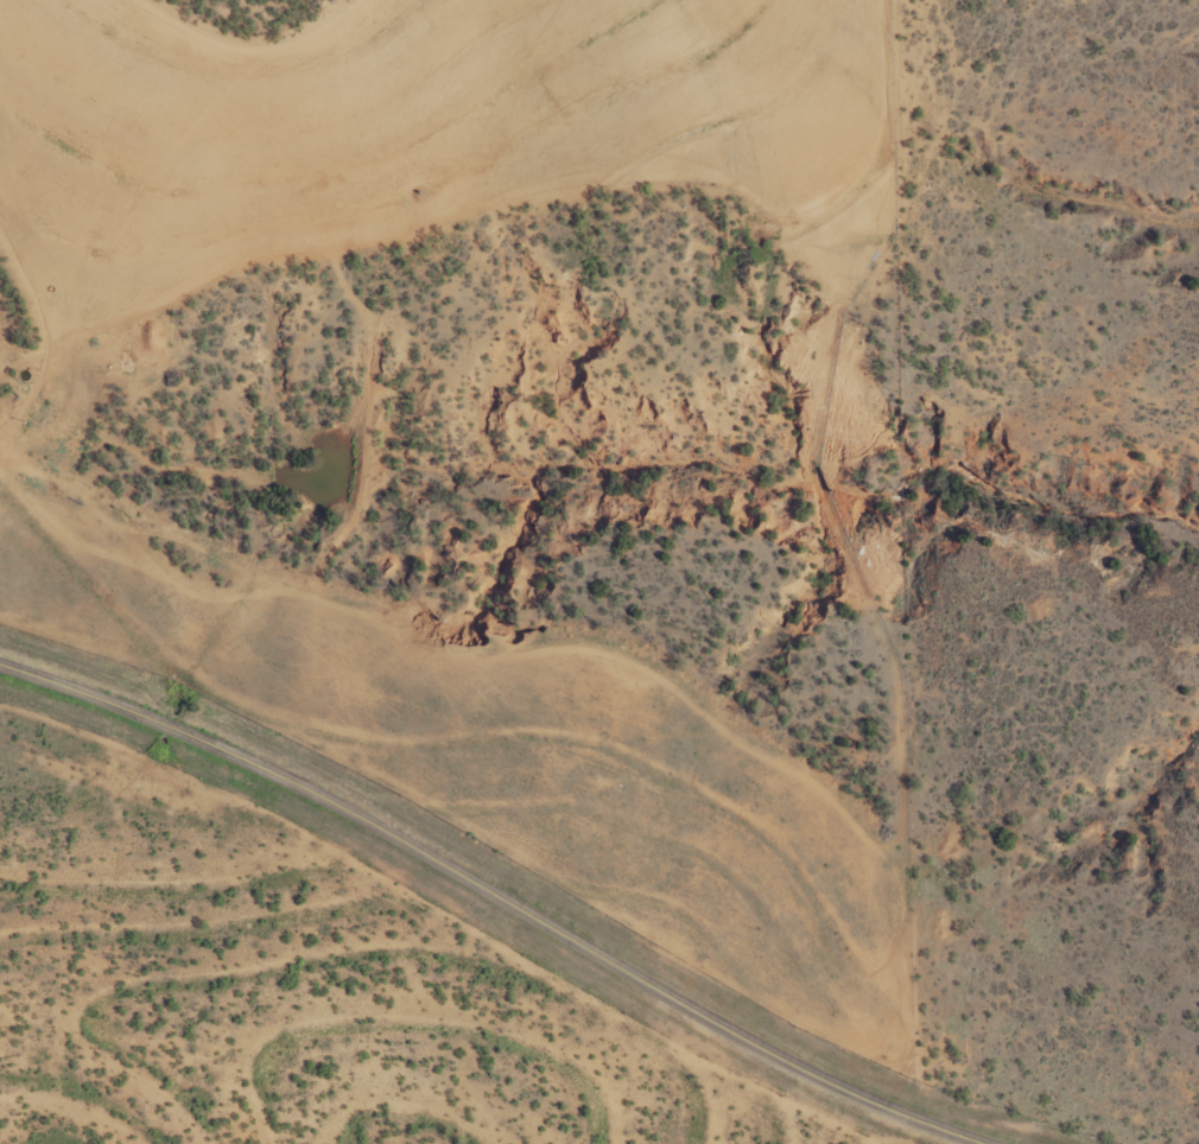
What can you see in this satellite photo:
road: (494, 890)

